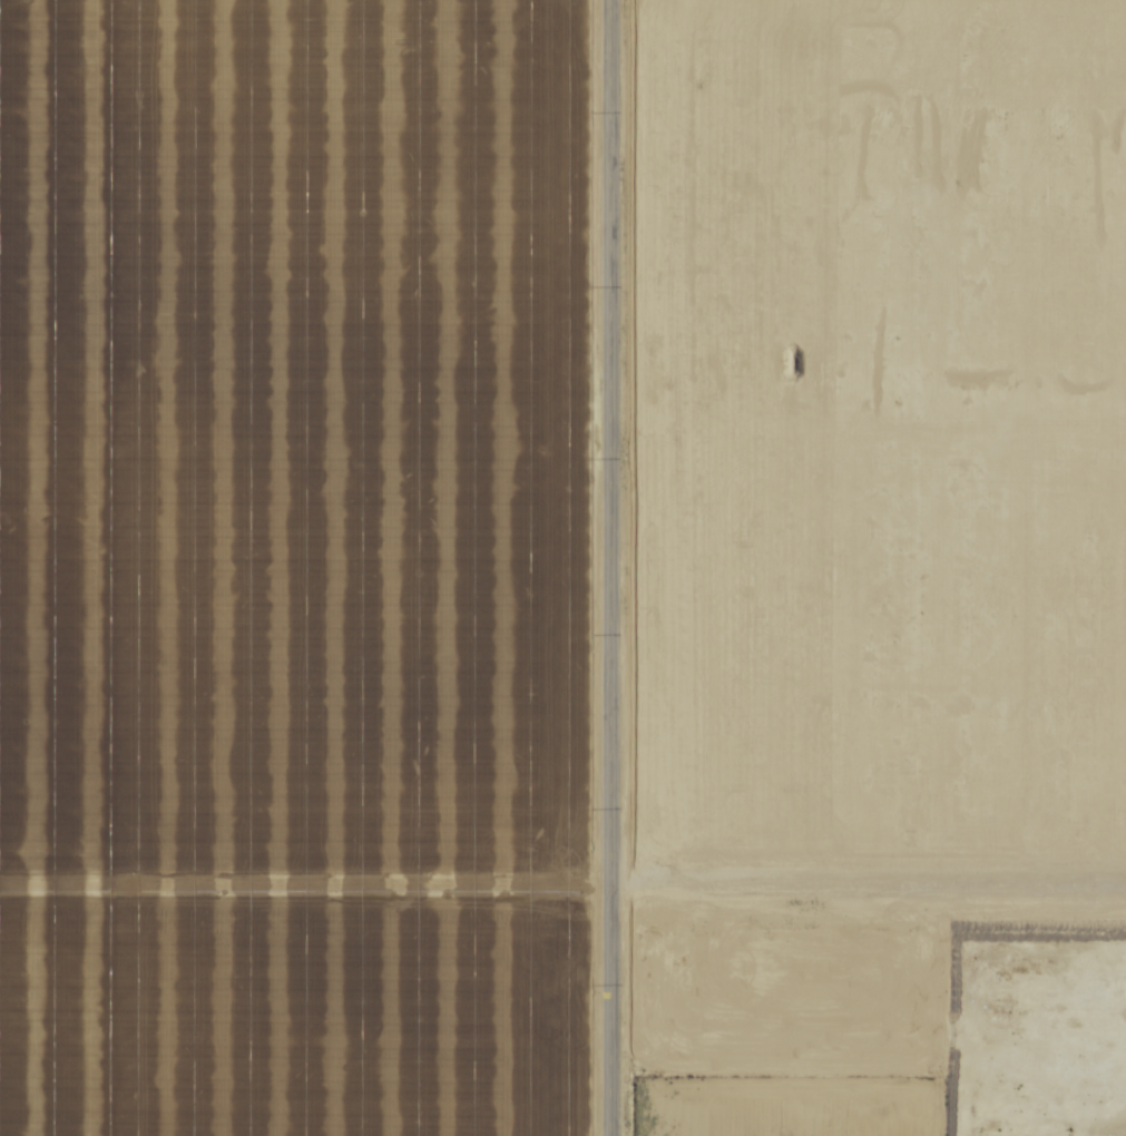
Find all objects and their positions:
road: (604, 568)

